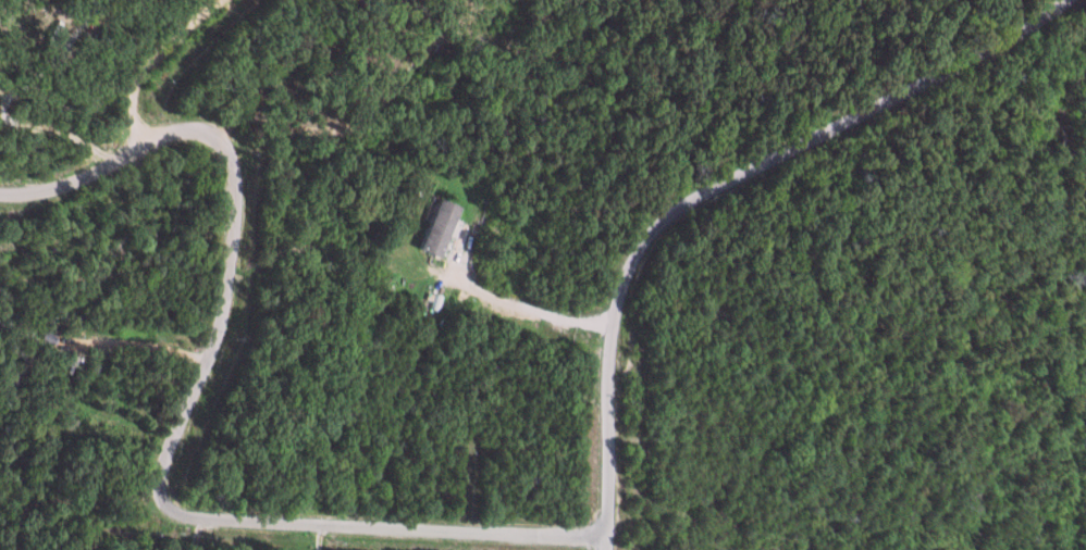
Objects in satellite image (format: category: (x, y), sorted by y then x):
road: (153, 61)
road: (171, 126)
road: (706, 186)
building: (441, 228)
road: (418, 264)
road: (126, 339)
road: (255, 520)
road: (190, 533)

